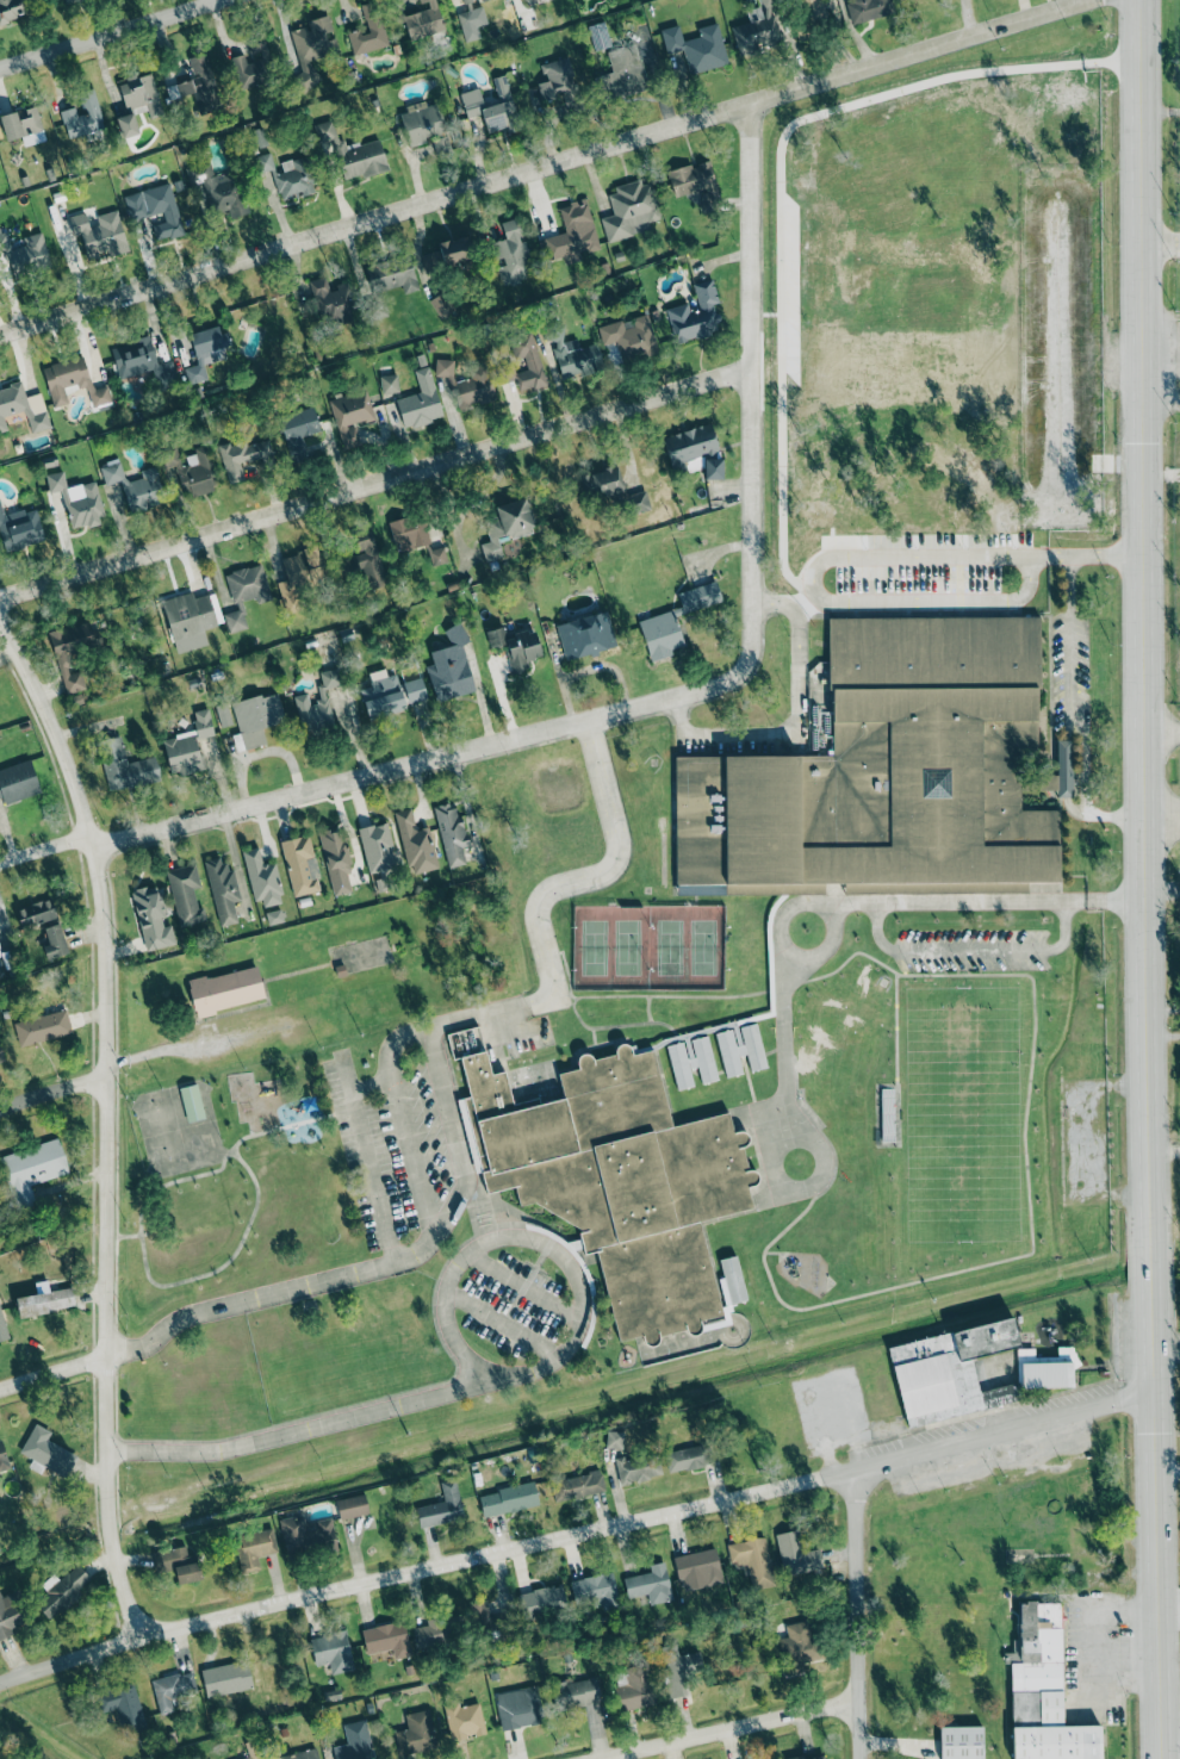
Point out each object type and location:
building: (66, 0)
building: (466, 0)
building: (480, 0)
road: (219, 1)
road: (1077, 1)
building: (11, 8)
building: (867, 10)
road: (1024, 10)
building: (813, 12)
road: (968, 18)
building: (423, 19)
building: (465, 19)
building: (758, 27)
building: (369, 30)
road: (113, 35)
building: (311, 46)
building: (697, 46)
building: (253, 64)
building: (555, 79)
building: (622, 79)
building: (203, 81)
building: (185, 87)
building: (141, 93)
building: (471, 102)
building: (499, 108)
building: (82, 116)
building: (23, 125)
building: (126, 125)
building: (424, 125)
building: (257, 137)
building: (350, 151)
road: (545, 164)
building: (286, 175)
building: (695, 182)
building: (218, 188)
building: (629, 209)
building: (156, 210)
building: (571, 234)
building: (99, 235)
road: (1161, 243)
building: (23, 254)
building: (449, 254)
building: (511, 255)
building: (392, 276)
building: (331, 302)
building: (695, 315)
building: (631, 337)
building: (206, 352)
building: (573, 354)
building: (143, 362)
building: (524, 363)
building: (443, 367)
road: (948, 368)
building: (72, 381)
building: (389, 384)
building: (473, 387)
building: (420, 402)
building: (23, 406)
building: (350, 415)
building: (297, 431)
building: (690, 443)
building: (243, 456)
building: (713, 468)
building: (197, 473)
building: (55, 480)
building: (603, 481)
road: (375, 483)
building: (135, 486)
building: (639, 502)
building: (85, 503)
building: (505, 526)
building: (19, 528)
building: (410, 533)
road: (1107, 552)
road: (1051, 553)
building: (367, 558)
road: (815, 573)
building: (299, 577)
building: (244, 593)
road: (782, 602)
building: (190, 619)
building: (675, 620)
building: (585, 635)
building: (516, 646)
building: (63, 661)
building: (451, 666)
building: (415, 690)
road: (695, 690)
building: (383, 694)
building: (317, 704)
road: (1082, 708)
building: (223, 714)
building: (255, 717)
road: (1162, 731)
building: (187, 745)
building: (125, 765)
building: (1064, 767)
building: (889, 769)
building: (18, 781)
building: (1047, 782)
road: (1162, 815)
building: (451, 833)
building: (415, 844)
road: (45, 846)
building: (377, 847)
building: (336, 860)
building: (300, 865)
building: (262, 878)
road: (1145, 879)
building: (223, 890)
building: (185, 894)
road: (985, 903)
building: (35, 913)
building: (274, 916)
building: (151, 919)
road: (777, 932)
building: (54, 941)
road: (970, 951)
building: (0, 952)
building: (225, 989)
road: (527, 1000)
building: (42, 1027)
road: (783, 1043)
building: (740, 1050)
building: (1, 1056)
building: (691, 1062)
road: (371, 1087)
road: (52, 1090)
building: (192, 1102)
road: (104, 1124)
road: (1166, 1149)
road: (367, 1158)
road: (769, 1167)
building: (32, 1169)
building: (617, 1177)
road: (139, 1226)
road: (122, 1236)
road: (374, 1267)
road: (523, 1285)
road: (446, 1291)
building: (44, 1300)
road: (502, 1323)
building: (2, 1328)
road: (462, 1367)
road: (51, 1373)
road: (313, 1427)
building: (614, 1440)
building: (48, 1452)
building: (2, 1454)
building: (684, 1459)
building: (638, 1467)
road: (1170, 1468)
building: (577, 1486)
building: (508, 1499)
building: (352, 1506)
building: (441, 1506)
road: (577, 1533)
building: (306, 1534)
building: (254, 1548)
building: (796, 1554)
building: (752, 1560)
building: (178, 1564)
building: (698, 1566)
building: (650, 1584)
building: (595, 1591)
building: (63, 1592)
building: (542, 1600)
road: (1172, 1608)
road: (859, 1612)
building: (10, 1614)
building: (490, 1621)
road: (1092, 1622)
building: (436, 1633)
building: (386, 1639)
building: (800, 1643)
building: (333, 1651)
building: (679, 1668)
building: (226, 1678)
building: (172, 1689)
building: (635, 1689)
building: (1043, 1691)
building: (576, 1692)
building: (124, 1707)
building: (518, 1708)
building: (464, 1720)
building: (416, 1733)
road: (746, 1733)
building: (355, 1742)
building: (961, 1742)
building: (251, 1751)
building: (298, 1755)
road: (1173, 1755)
building: (812, 1757)

